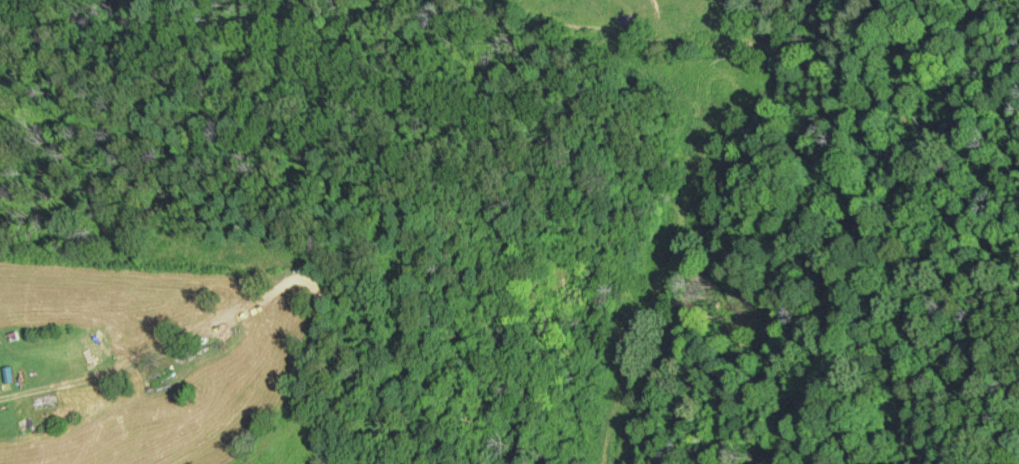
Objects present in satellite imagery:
building: (15, 420)

